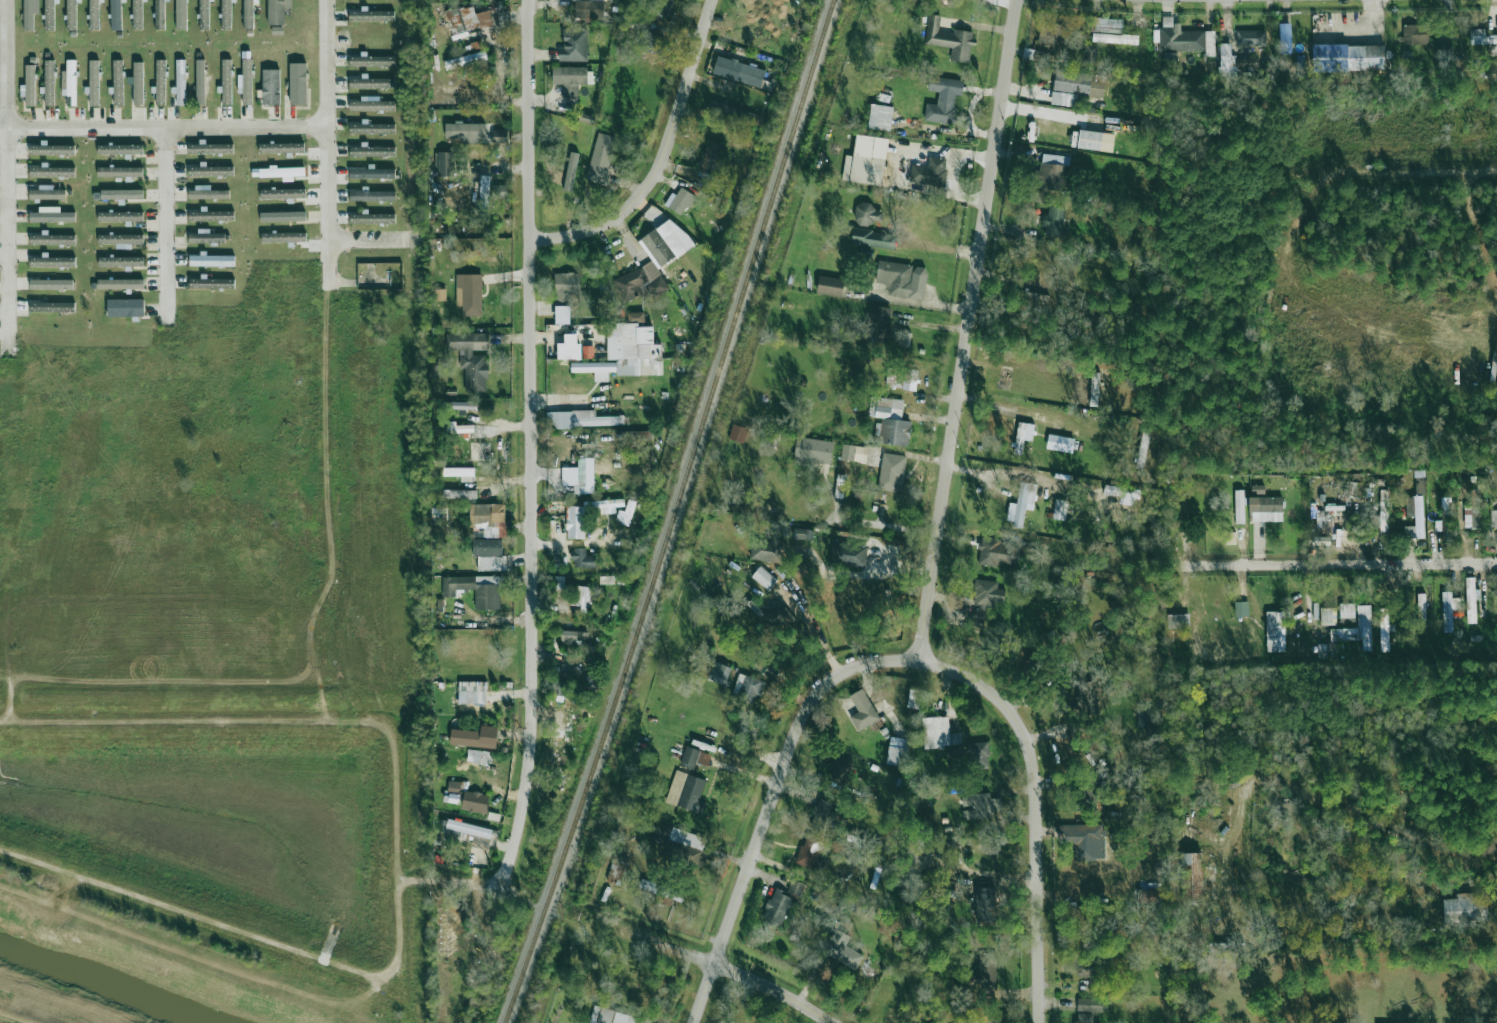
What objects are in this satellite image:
building: (656, 6)
building: (590, 8)
building: (277, 11)
building: (248, 13)
building: (94, 14)
building: (115, 14)
building: (137, 14)
building: (159, 14)
building: (181, 14)
building: (204, 14)
building: (226, 14)
building: (370, 14)
building: (28, 15)
building: (50, 15)
building: (71, 15)
building: (466, 19)
building: (633, 23)
building: (1106, 25)
building: (1045, 34)
building: (1415, 34)
building: (1251, 37)
building: (1481, 37)
building: (1115, 38)
building: (1184, 38)
building: (650, 41)
building: (951, 41)
building: (1442, 43)
building: (476, 44)
building: (574, 44)
building: (1090, 53)
building: (1348, 57)
building: (370, 60)
building: (465, 60)
building: (1227, 61)
building: (1170, 62)
building: (739, 71)
building: (245, 78)
building: (69, 80)
building: (569, 80)
building: (160, 81)
building: (200, 81)
building: (226, 81)
building: (49, 82)
building: (93, 82)
building: (117, 82)
building: (137, 82)
building: (297, 82)
building: (370, 82)
building: (180, 83)
building: (29, 85)
building: (269, 86)
building: (1074, 87)
building: (452, 89)
building: (941, 100)
building: (372, 104)
building: (730, 111)
building: (880, 117)
building: (371, 127)
building: (467, 128)
road: (164, 129)
building: (499, 139)
building: (1095, 140)
road: (328, 145)
building: (281, 147)
building: (210, 148)
building: (51, 149)
building: (119, 149)
building: (371, 150)
building: (601, 158)
building: (709, 159)
building: (866, 160)
road: (663, 161)
building: (446, 164)
building: (210, 170)
building: (52, 171)
building: (120, 171)
building: (570, 171)
building: (279, 172)
building: (372, 172)
building: (931, 172)
building: (1051, 172)
road: (6, 177)
building: (499, 190)
building: (46, 193)
building: (207, 193)
building: (282, 193)
building: (122, 194)
building: (371, 194)
building: (485, 198)
building: (682, 201)
building: (867, 214)
building: (51, 215)
building: (211, 215)
building: (120, 216)
building: (282, 216)
building: (372, 217)
building: (1053, 221)
road: (165, 226)
road: (374, 235)
building: (208, 236)
building: (862, 236)
building: (283, 237)
building: (51, 239)
building: (120, 239)
building: (658, 247)
building: (212, 260)
building: (52, 261)
building: (120, 261)
building: (896, 278)
building: (637, 279)
building: (211, 283)
building: (51, 284)
building: (119, 284)
building: (830, 287)
building: (565, 288)
building: (469, 293)
building: (439, 294)
building: (1034, 296)
building: (51, 306)
building: (125, 307)
building: (562, 314)
building: (877, 324)
road: (965, 330)
road: (568, 332)
building: (905, 339)
building: (569, 347)
building: (641, 348)
building: (587, 351)
building: (471, 358)
building: (594, 367)
building: (1494, 369)
building: (903, 379)
building: (463, 405)
building: (581, 419)
building: (459, 427)
building: (893, 431)
building: (737, 433)
building: (636, 434)
building: (1022, 436)
building: (592, 437)
road: (529, 442)
building: (1060, 443)
building: (1142, 449)
building: (814, 450)
building: (477, 452)
building: (854, 453)
building: (892, 472)
building: (460, 473)
building: (583, 476)
building: (1420, 485)
building: (1257, 489)
building: (1351, 489)
building: (1121, 491)
building: (458, 493)
building: (610, 503)
building: (1021, 504)
building: (1239, 506)
building: (1266, 508)
building: (1060, 509)
building: (629, 512)
building: (1383, 512)
railway: (672, 513)
building: (1471, 516)
building: (570, 517)
building: (1493, 518)
building: (493, 520)
building: (1419, 521)
building: (802, 533)
building: (614, 541)
building: (999, 548)
building: (768, 550)
building: (489, 554)
building: (848, 554)
building: (582, 557)
road: (1342, 563)
building: (764, 578)
building: (606, 579)
building: (558, 582)
building: (1494, 583)
road: (1184, 585)
building: (475, 589)
building: (987, 594)
building: (580, 597)
building: (1471, 599)
building: (1421, 607)
building: (1241, 608)
building: (1347, 610)
building: (1450, 610)
building: (1328, 616)
building: (779, 619)
building: (1178, 620)
building: (1384, 622)
building: (1356, 629)
building: (1275, 631)
road: (810, 634)
building: (572, 637)
building: (719, 673)
building: (560, 687)
building: (748, 689)
building: (1087, 696)
building: (473, 697)
building: (913, 699)
building: (864, 717)
building: (1142, 718)
building: (936, 732)
building: (470, 740)
building: (897, 751)
building: (978, 754)
building: (481, 757)
building: (690, 757)
building: (703, 760)
building: (838, 772)
road: (778, 774)
building: (1133, 785)
building: (454, 788)
building: (682, 789)
building: (451, 797)
building: (475, 801)
building: (922, 804)
building: (980, 806)
road: (1034, 811)
building: (828, 818)
building: (469, 832)
building: (1084, 840)
building: (679, 842)
building: (811, 851)
building: (919, 851)
building: (618, 870)
road: (996, 870)
building: (1192, 878)
road: (463, 880)
building: (661, 889)
building: (1148, 896)
building: (781, 903)
building: (985, 905)
building: (1467, 908)
road: (659, 945)
building: (1220, 947)
building: (987, 970)
building: (1092, 975)
road: (773, 989)
river: (86, 992)
road: (702, 993)
building: (1090, 1005)
building: (610, 1016)
building: (1084, 1018)
building: (954, 1021)

